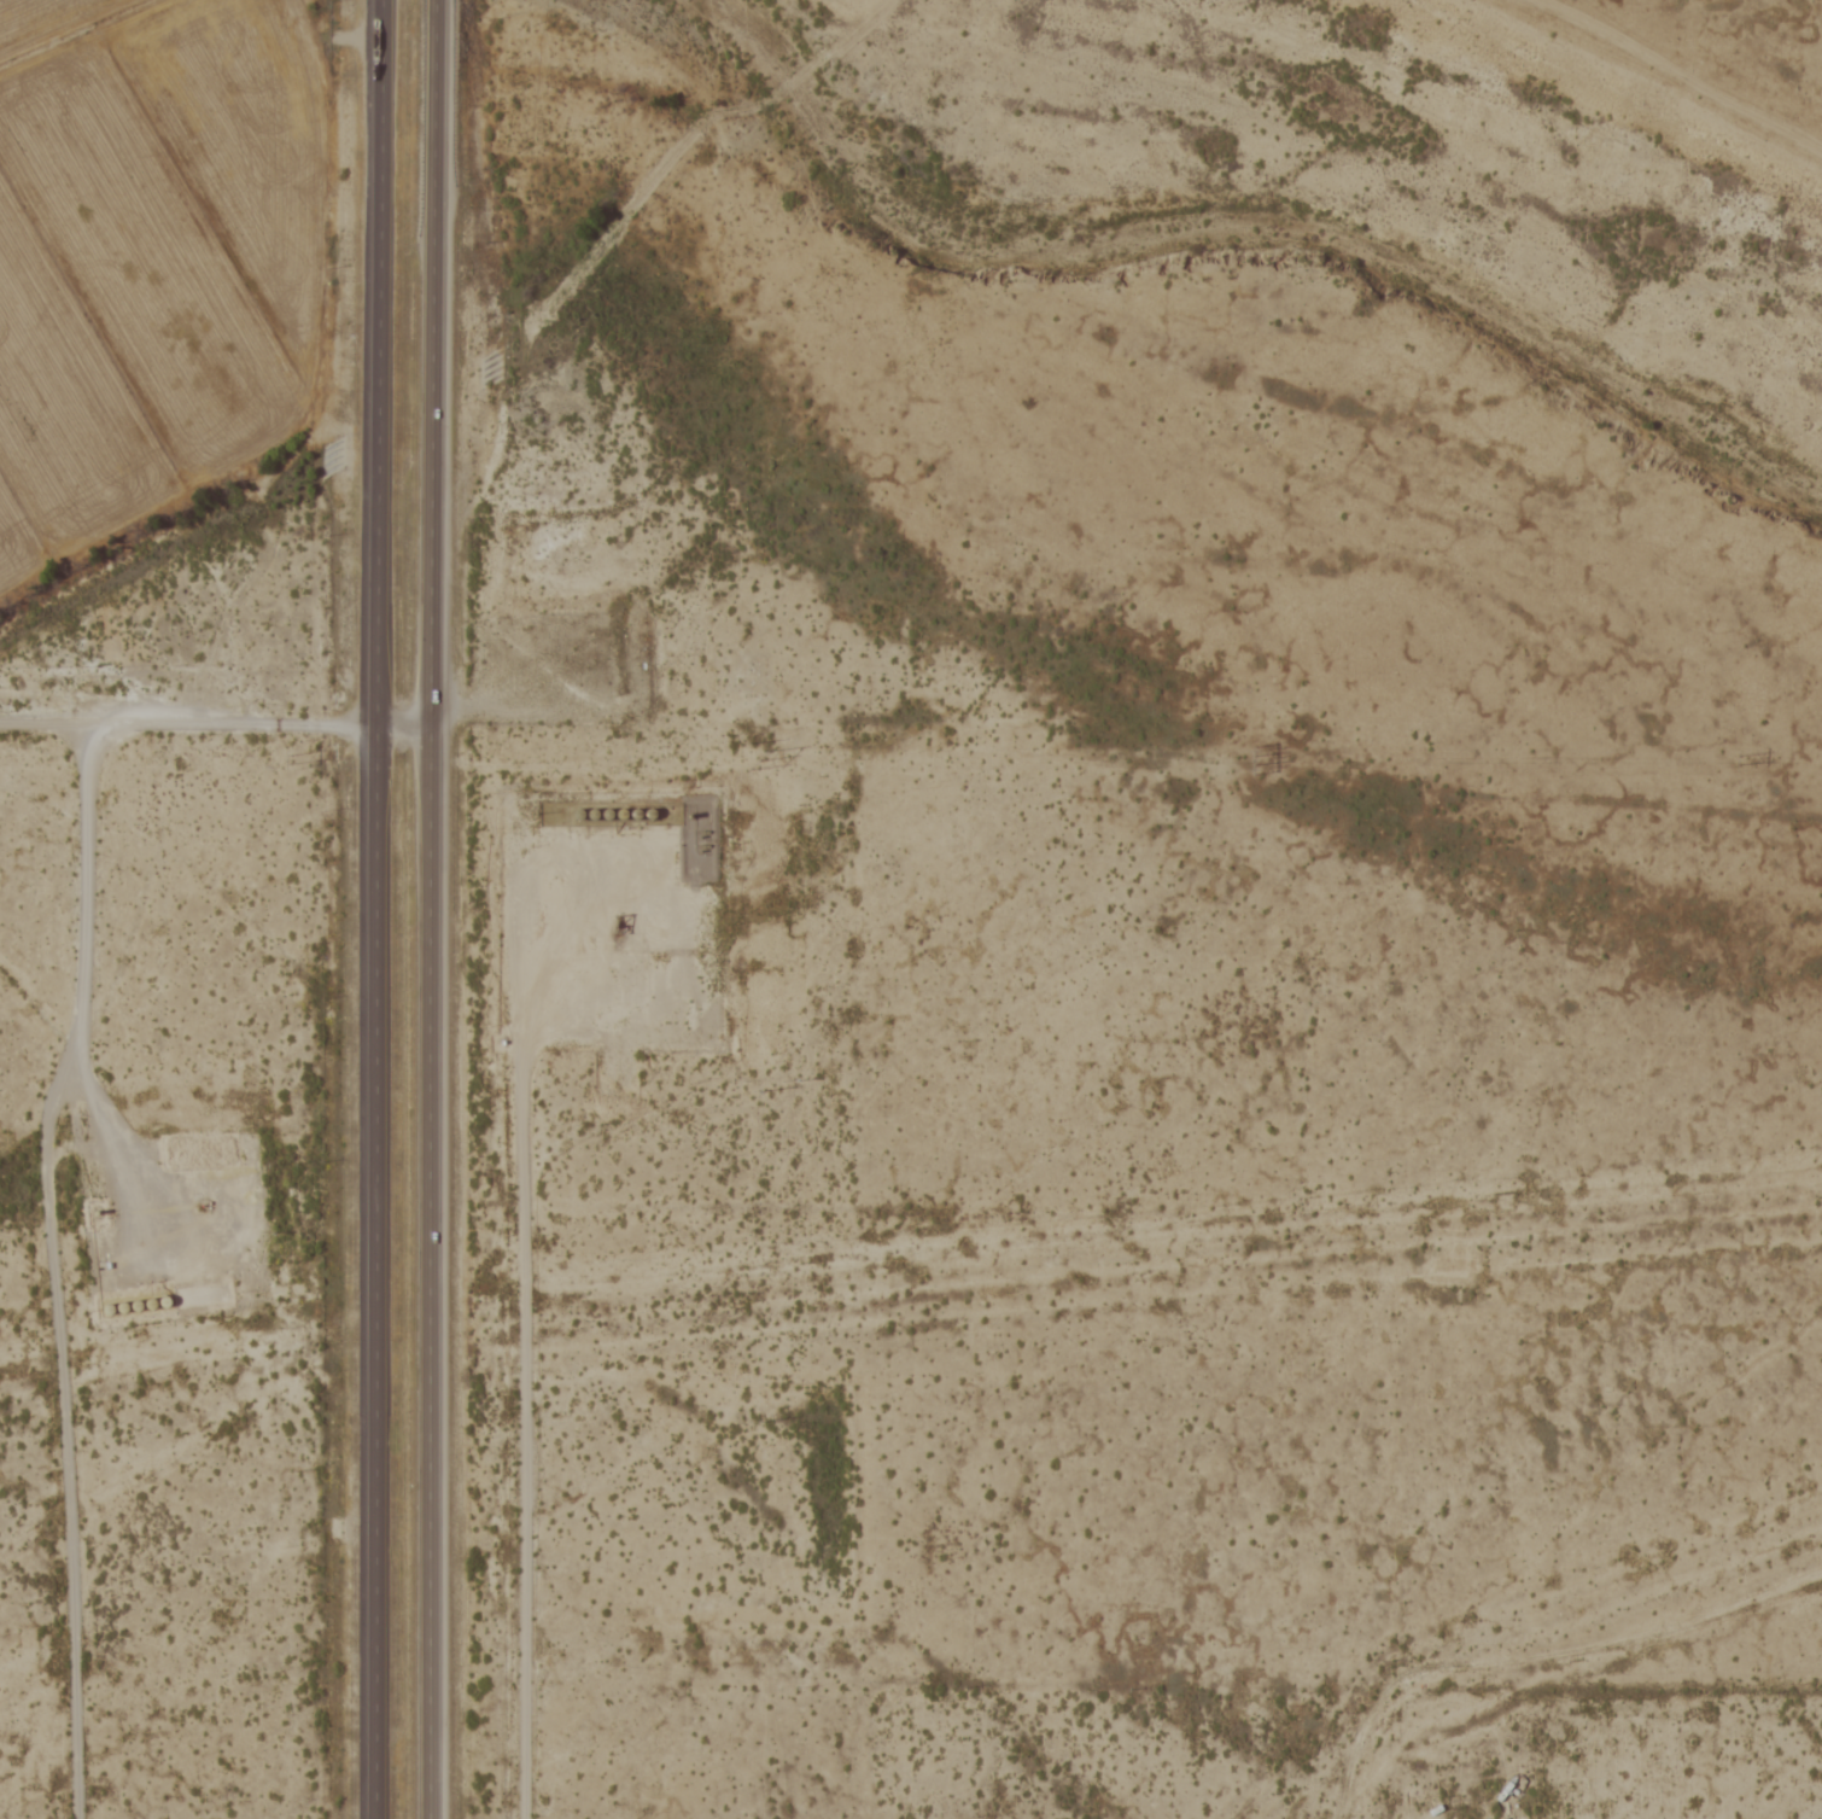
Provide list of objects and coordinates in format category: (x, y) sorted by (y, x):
road: (211, 724)
power tower: (1245, 759)
power tower: (1738, 759)
power tower: (286, 760)
power tower: (754, 760)
road: (374, 909)
road: (430, 909)
road: (113, 1161)
road: (45, 1266)
road: (510, 1333)

